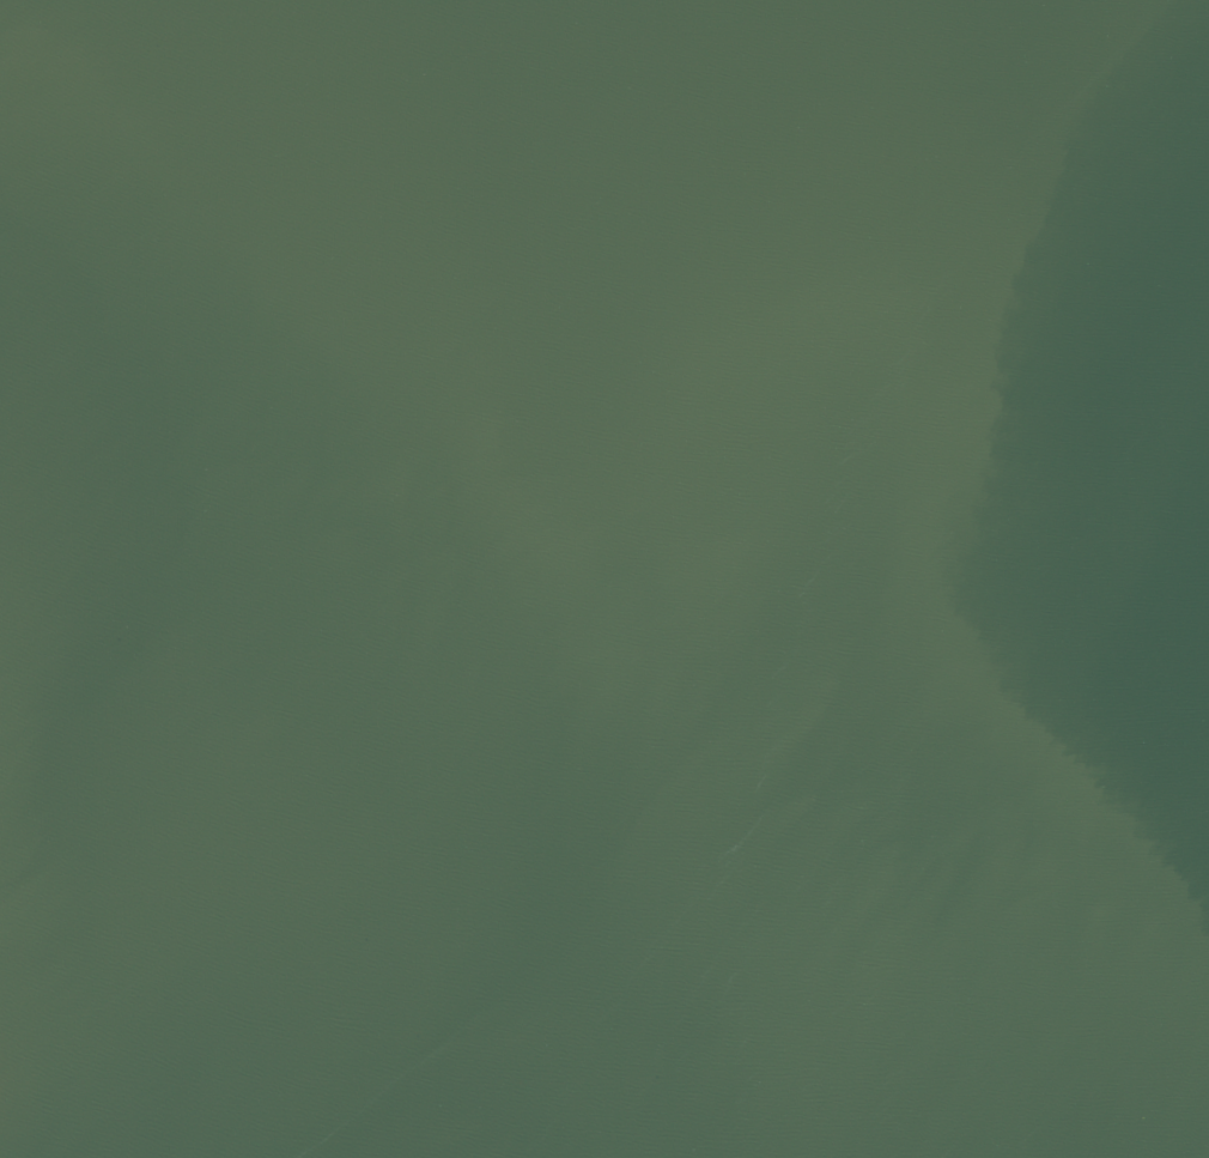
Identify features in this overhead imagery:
river: (1098, 110)

